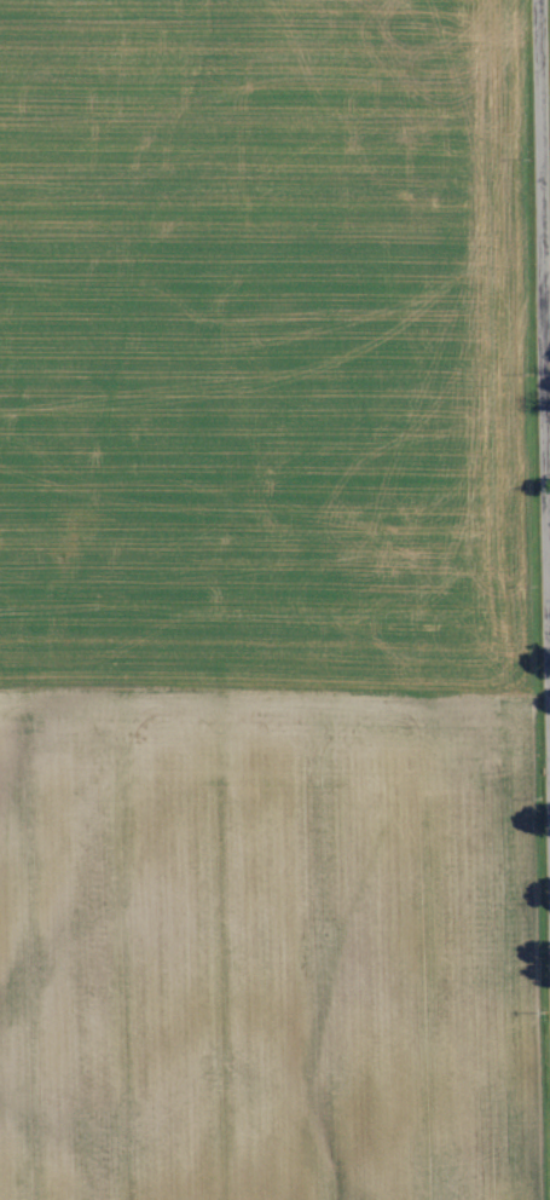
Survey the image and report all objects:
road: (545, 331)
road: (542, 409)
road: (546, 431)

